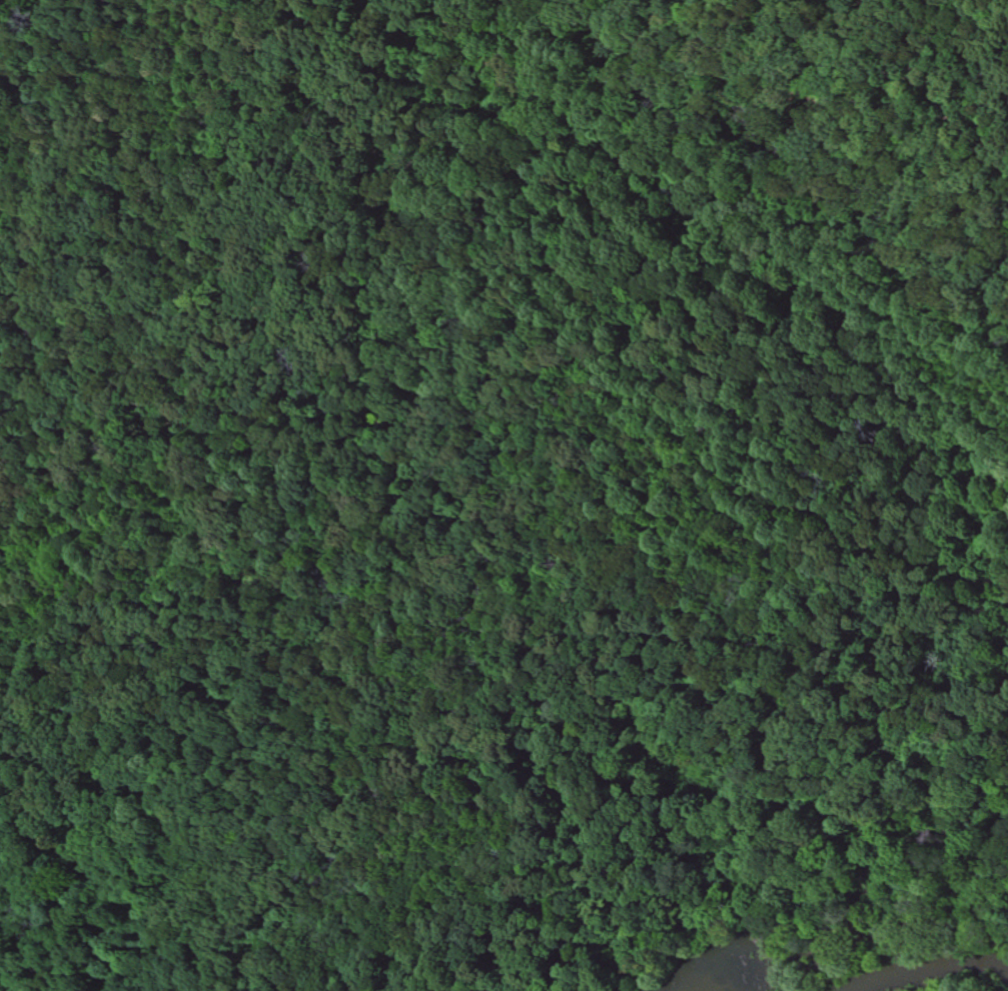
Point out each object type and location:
park: (483, 450)

